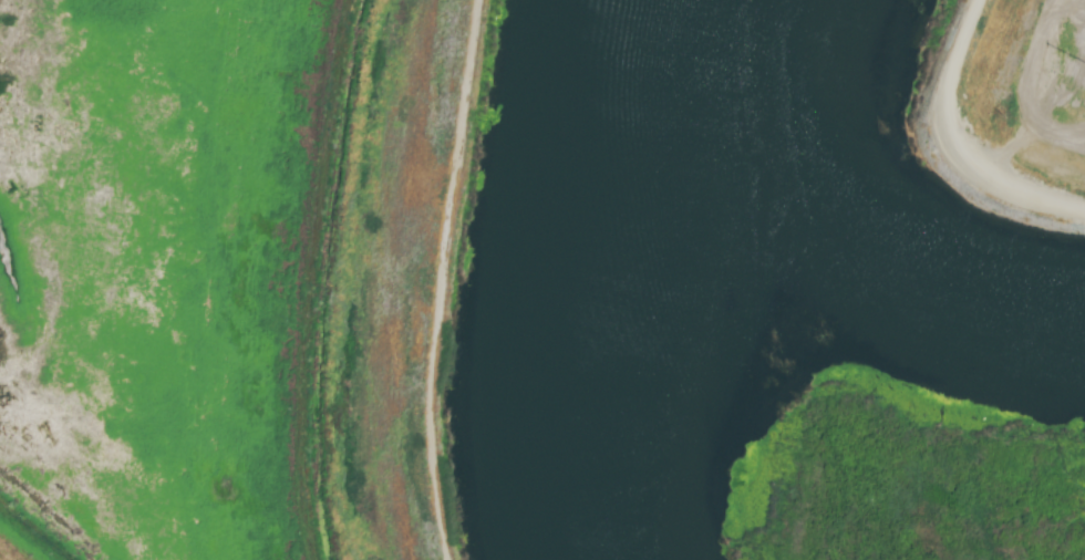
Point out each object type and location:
crop: (1076, 52)
road: (951, 145)
crop: (231, 272)
river: (627, 277)

